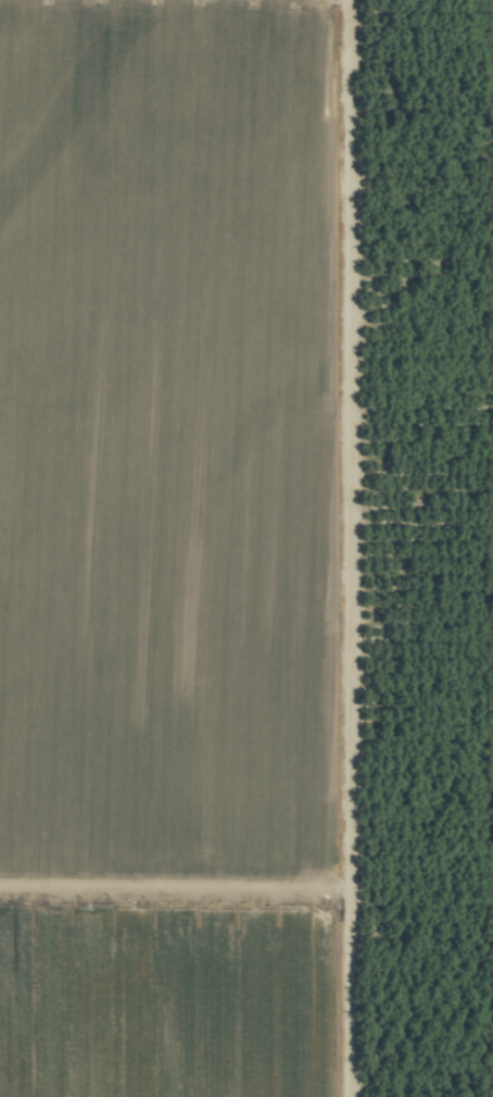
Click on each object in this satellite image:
crop: (246, 548)

